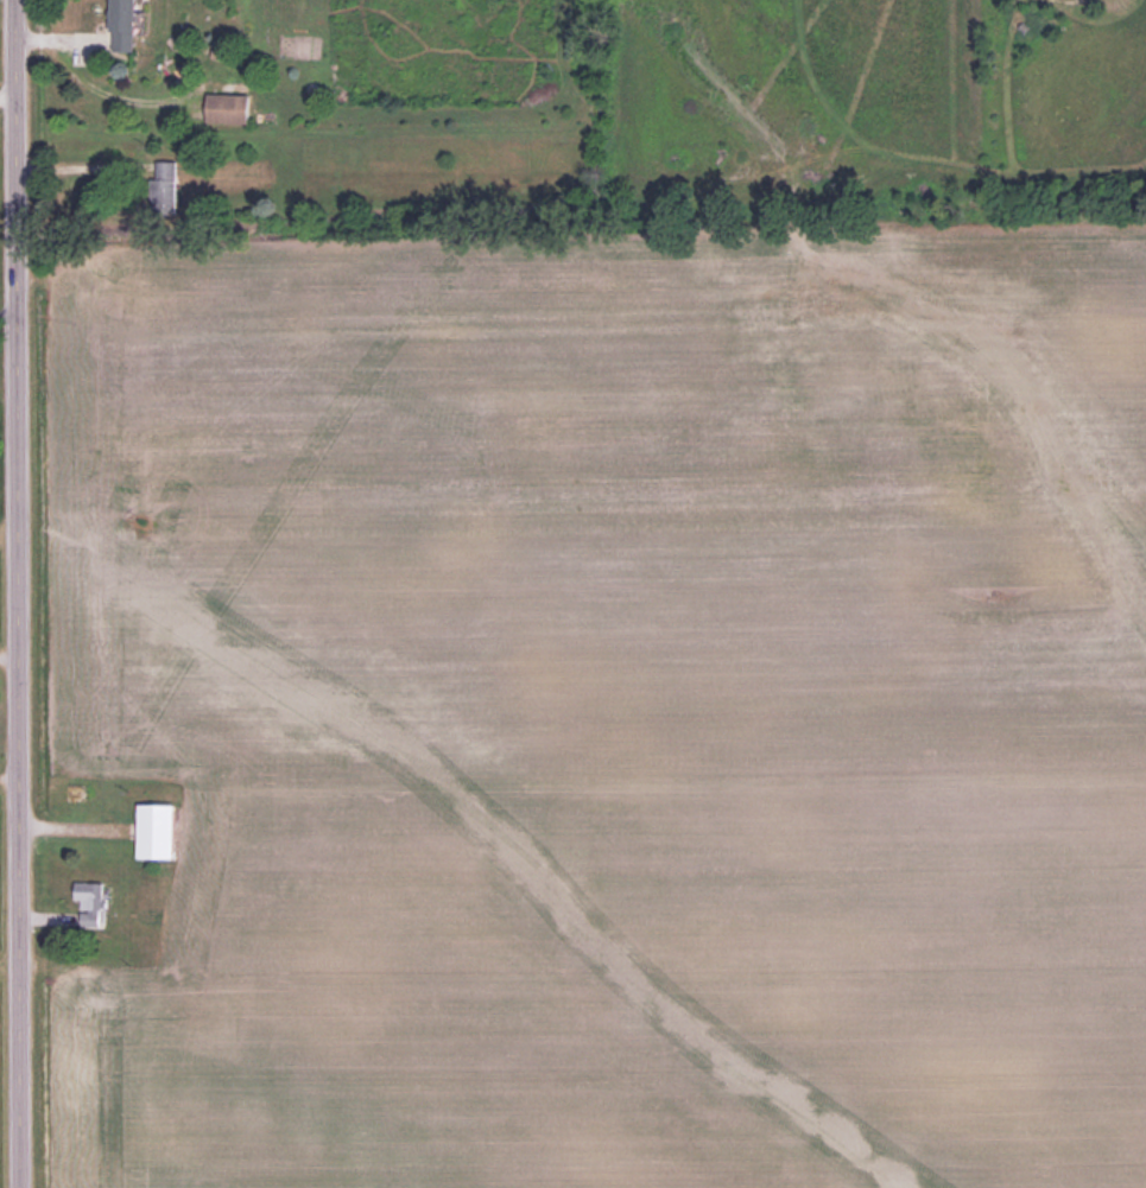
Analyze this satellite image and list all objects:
road: (78, 167)
road: (13, 593)
building: (153, 828)
building: (88, 894)

